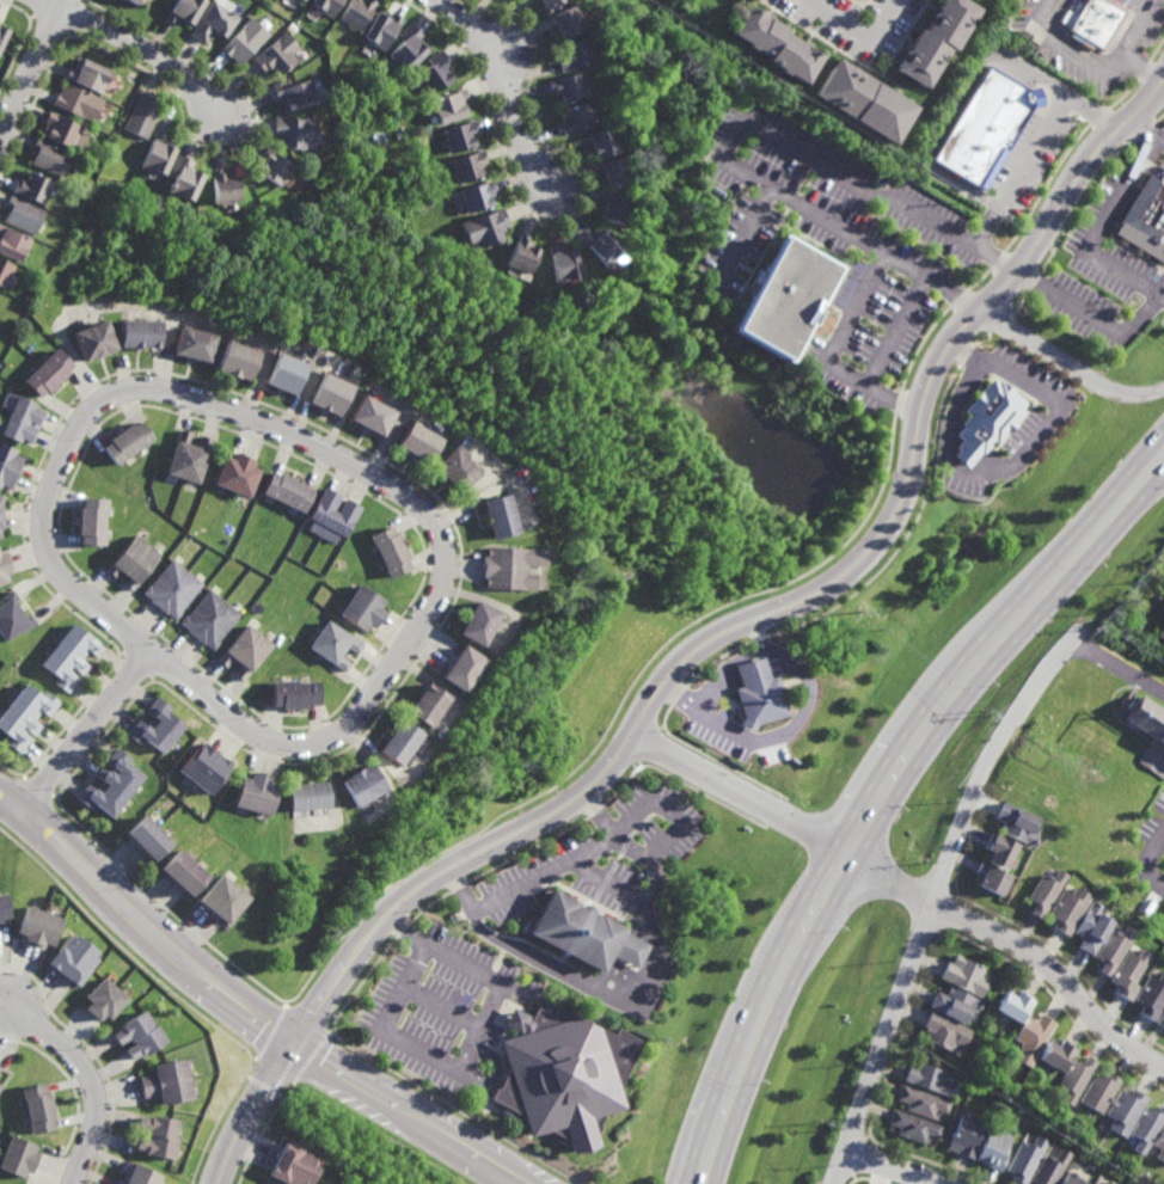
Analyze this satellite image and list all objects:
building: (130, 0)
building: (302, 0)
building: (546, 2)
building: (324, 6)
building: (180, 10)
building: (354, 12)
building: (564, 19)
building: (209, 20)
building: (1097, 20)
building: (379, 27)
building: (2, 31)
road: (860, 31)
building: (932, 38)
building: (241, 41)
building: (776, 41)
building: (406, 45)
road: (142, 47)
building: (274, 54)
building: (572, 54)
road: (31, 68)
road: (1146, 68)
road: (1101, 69)
building: (434, 70)
building: (86, 73)
road: (972, 81)
road: (504, 85)
building: (566, 86)
building: (292, 93)
building: (864, 99)
building: (76, 100)
building: (447, 105)
building: (140, 115)
building: (576, 117)
building: (391, 121)
building: (988, 125)
building: (59, 128)
building: (292, 130)
road: (1145, 130)
road: (735, 133)
building: (458, 135)
building: (600, 141)
building: (155, 153)
building: (49, 155)
building: (271, 165)
building: (466, 165)
building: (612, 171)
road: (1022, 171)
building: (182, 178)
building: (32, 185)
building: (222, 186)
building: (474, 196)
building: (611, 208)
building: (22, 213)
building: (1145, 216)
building: (483, 227)
road: (1093, 229)
building: (12, 243)
building: (600, 245)
building: (520, 253)
building: (559, 262)
building: (5, 271)
building: (784, 297)
road: (1092, 318)
road: (892, 329)
building: (136, 333)
building: (92, 341)
building: (190, 344)
road: (828, 352)
building: (234, 360)
road: (1067, 364)
road: (997, 368)
building: (48, 373)
building: (282, 374)
building: (326, 394)
road: (233, 411)
building: (368, 416)
building: (19, 418)
building: (980, 419)
building: (124, 442)
building: (416, 443)
building: (185, 458)
building: (8, 466)
building: (454, 472)
building: (233, 474)
building: (284, 491)
building: (0, 511)
building: (329, 516)
building: (496, 517)
building: (90, 522)
building: (388, 552)
building: (130, 562)
building: (508, 569)
building: (4, 570)
building: (169, 589)
road: (782, 606)
building: (361, 609)
building: (12, 619)
building: (207, 620)
building: (476, 625)
building: (1160, 632)
building: (330, 645)
building: (243, 652)
building: (71, 658)
road: (773, 662)
road: (1115, 665)
road: (752, 669)
building: (460, 670)
road: (712, 687)
building: (758, 694)
building: (292, 695)
building: (425, 706)
building: (26, 716)
building: (154, 726)
road: (786, 728)
road: (85, 731)
building: (1147, 732)
building: (398, 741)
building: (202, 767)
road: (876, 777)
building: (360, 781)
building: (111, 784)
building: (252, 791)
building: (304, 793)
road: (895, 798)
building: (1016, 822)
building: (148, 835)
building: (997, 848)
road: (1148, 859)
building: (182, 871)
road: (541, 872)
building: (990, 877)
road: (908, 887)
building: (1043, 891)
road: (931, 892)
building: (221, 897)
building: (4, 906)
building: (1067, 908)
road: (146, 924)
building: (39, 925)
building: (1091, 926)
building: (583, 933)
building: (1113, 949)
building: (74, 957)
building: (1127, 973)
building: (963, 975)
building: (1151, 995)
road: (636, 996)
building: (105, 999)
building: (952, 1002)
building: (1012, 1005)
building: (1160, 1019)
building: (943, 1030)
building: (141, 1033)
building: (1029, 1037)
road: (465, 1053)
building: (1054, 1054)
building: (0, 1068)
road: (495, 1072)
building: (560, 1073)
building: (929, 1078)
road: (92, 1079)
building: (1072, 1079)
building: (169, 1081)
building: (1097, 1091)
building: (921, 1100)
building: (38, 1106)
building: (1122, 1110)
road: (251, 1111)
road: (410, 1115)
building: (912, 1124)
building: (1145, 1127)
building: (159, 1135)
building: (966, 1135)
building: (1159, 1145)
building: (994, 1148)
building: (18, 1155)
building: (1025, 1159)
building: (1093, 1164)
building: (292, 1165)
road: (892, 1167)
building: (1050, 1167)
building: (140, 1174)
building: (1072, 1179)
building: (1110, 1182)
building: (1093, 1183)

